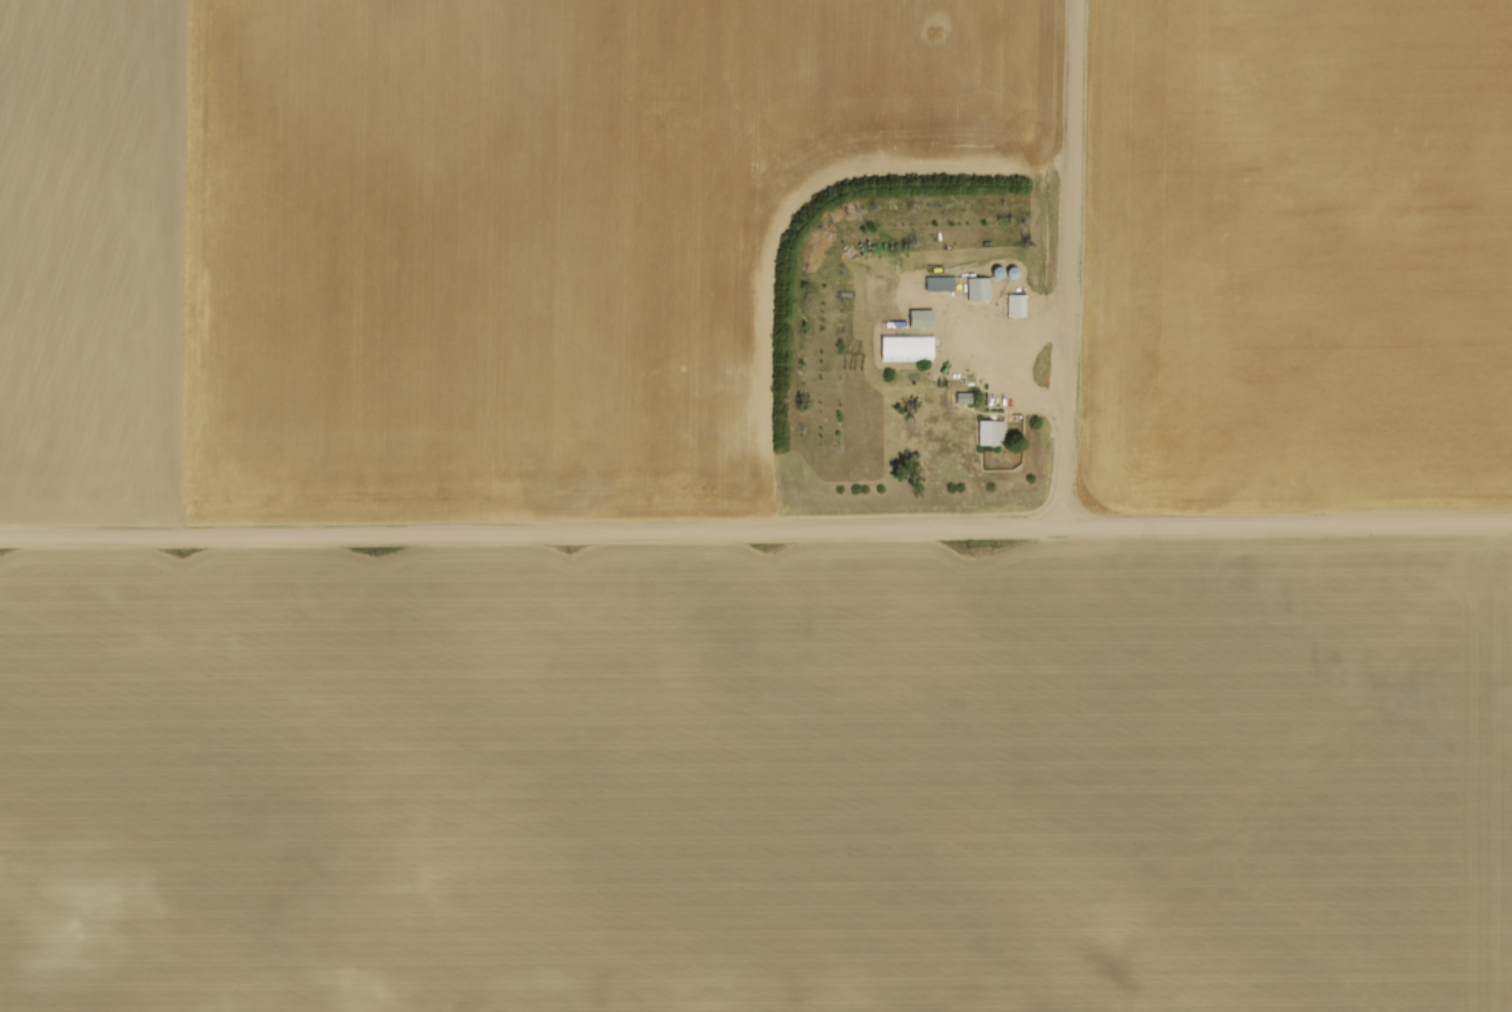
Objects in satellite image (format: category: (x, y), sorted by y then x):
crop: (443, 238)
crop: (1300, 251)
road: (1068, 262)
silo: (1014, 270)
silo: (999, 271)
building: (942, 283)
building: (980, 288)
building: (1018, 305)
road: (953, 314)
building: (923, 317)
building: (909, 347)
road: (1015, 363)
building: (965, 396)
building: (989, 433)
road: (756, 529)
crop: (759, 778)

